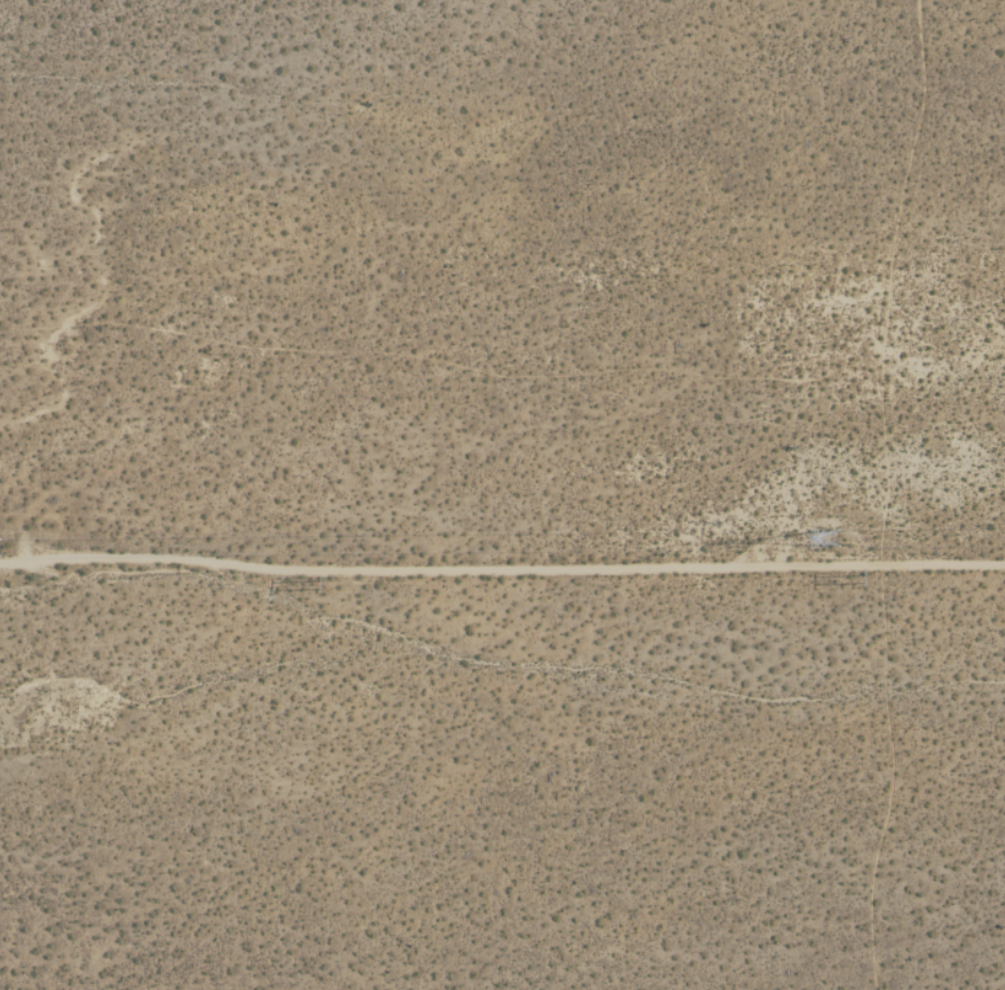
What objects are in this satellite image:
power tower: (844, 537)
power tower: (8, 545)
power tower: (867, 578)
power tower: (321, 584)

